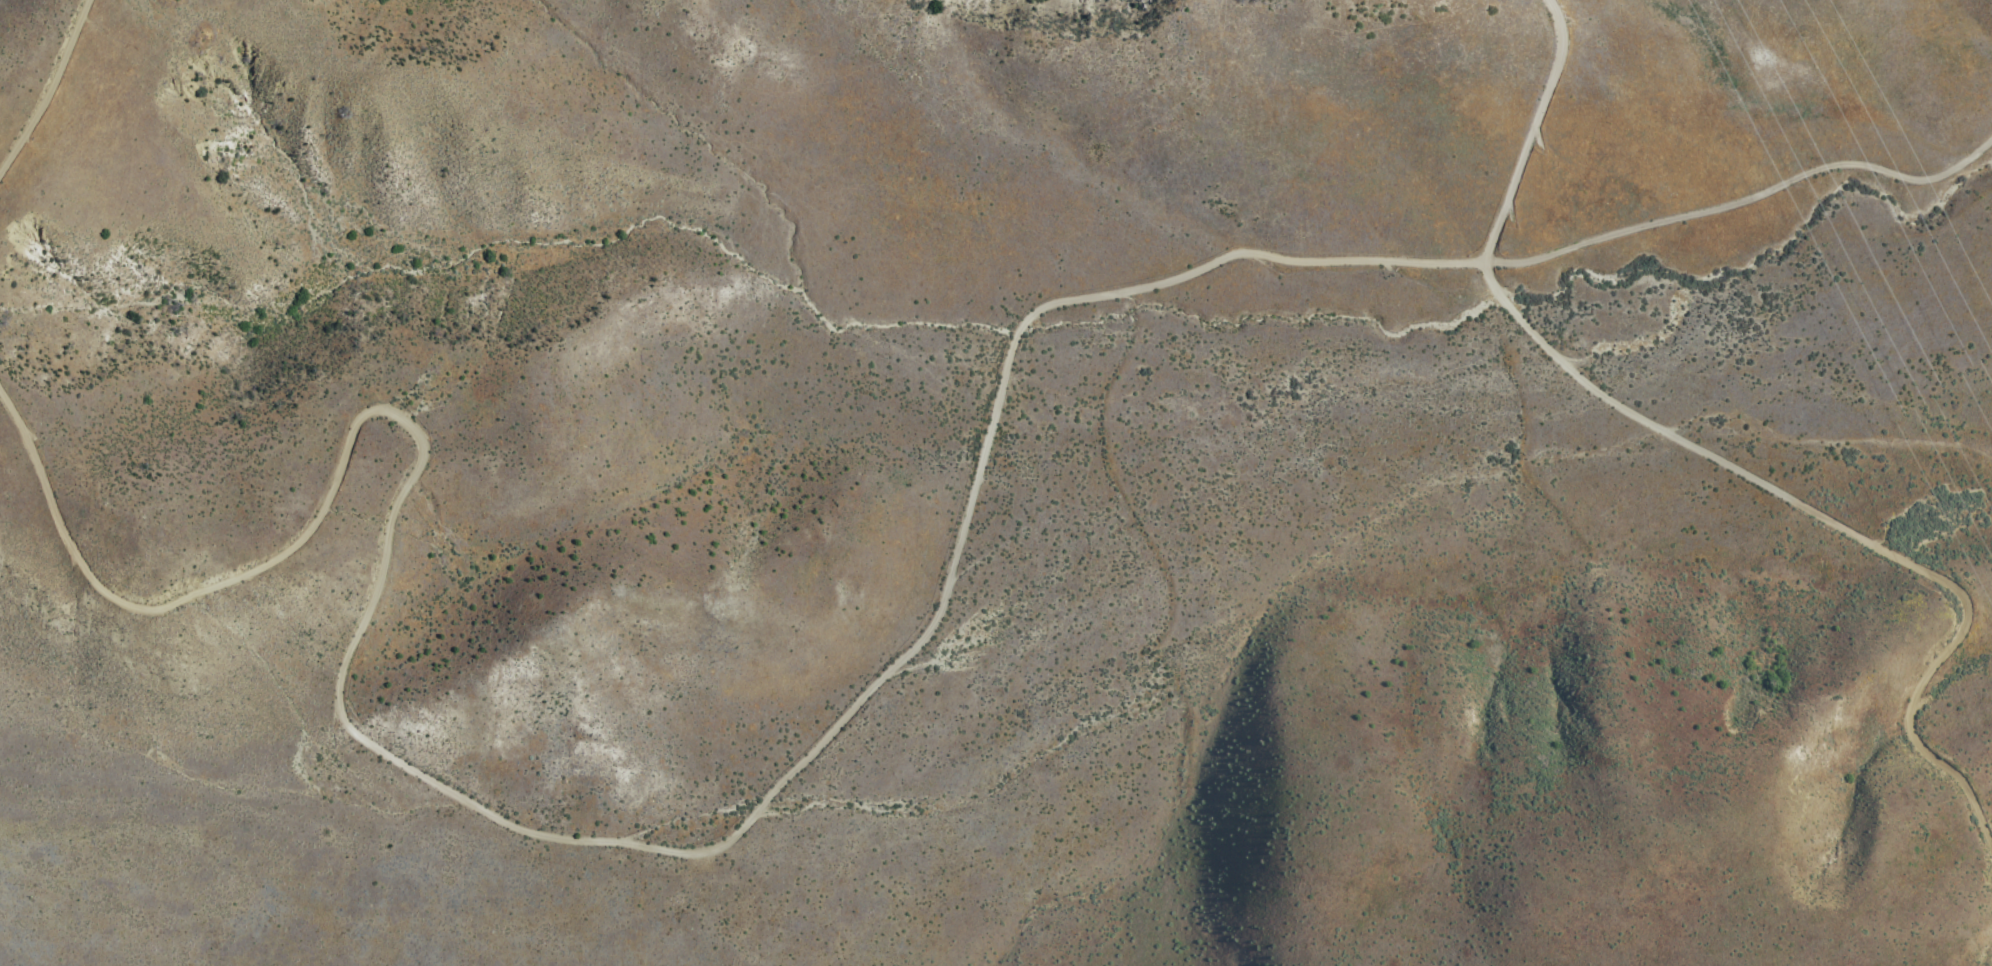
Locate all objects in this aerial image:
road: (50, 90)
road: (1374, 261)
road: (1713, 461)
road: (279, 557)
road: (639, 852)

